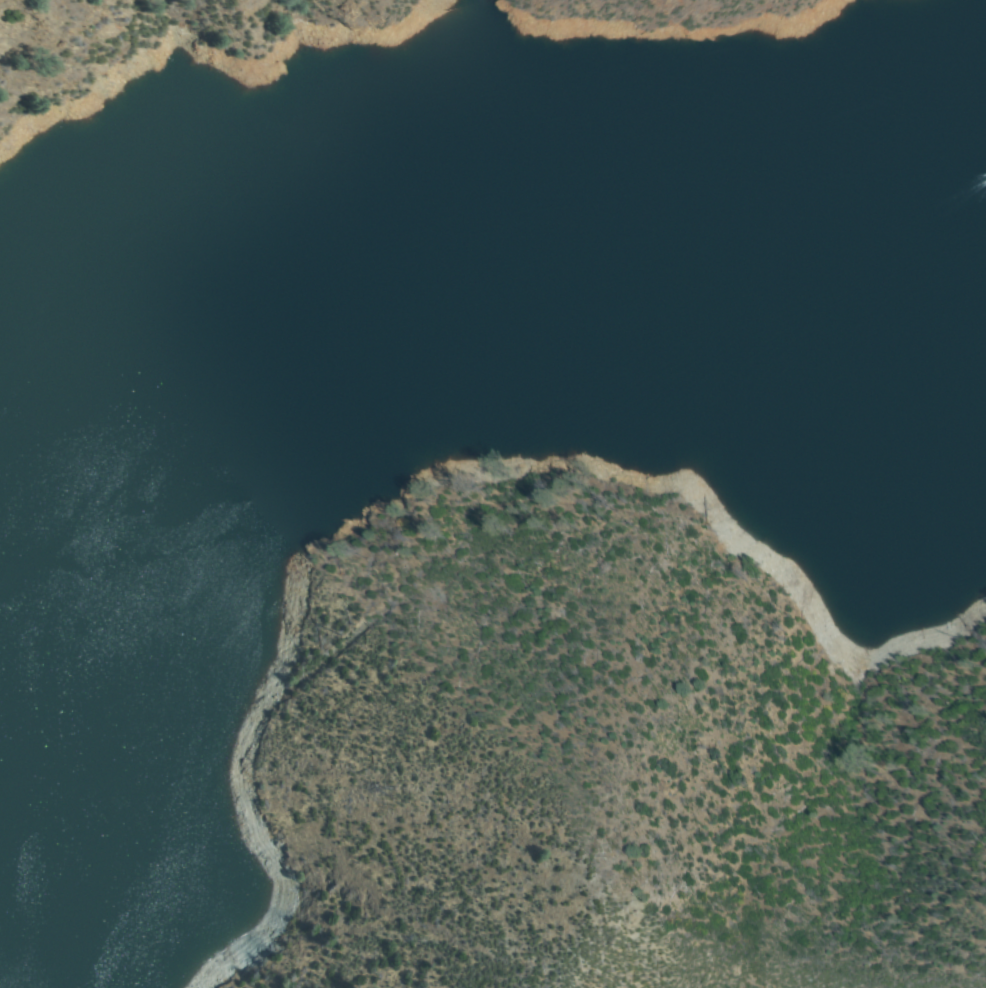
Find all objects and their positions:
river: (455, 196)

